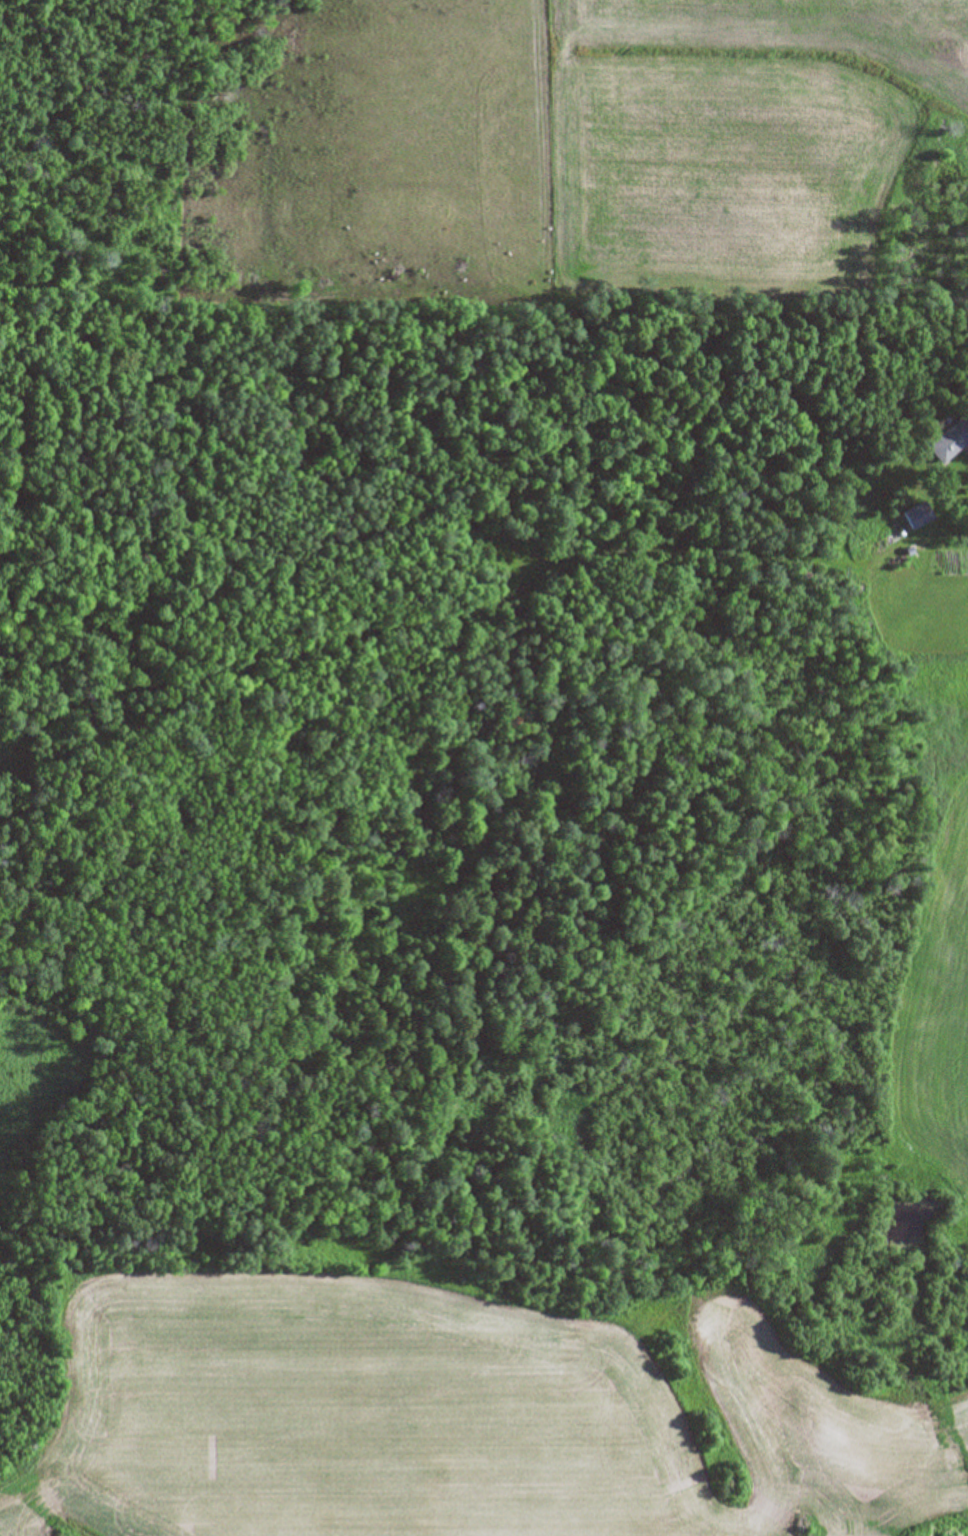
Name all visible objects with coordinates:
building: (946, 439)
building: (910, 518)

